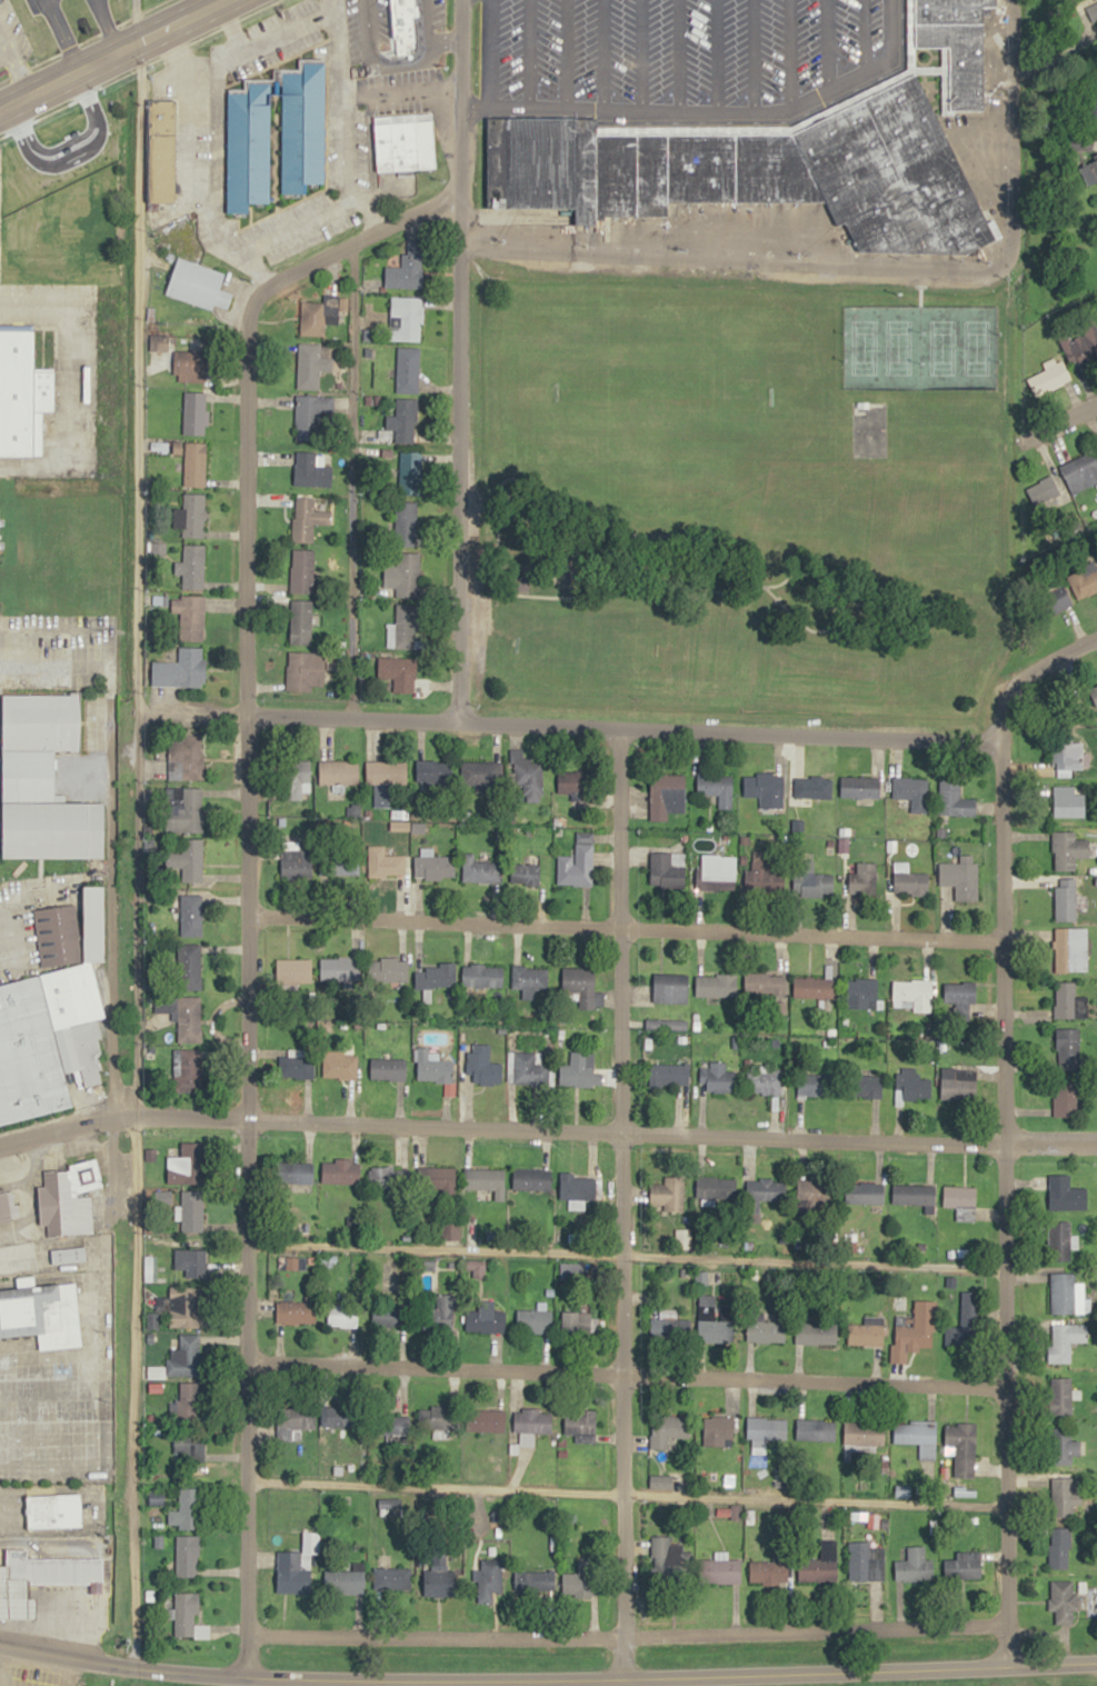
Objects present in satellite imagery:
road: (201, 2)
building: (1096, 2)
parking lot: (30, 6)
road: (46, 8)
road: (133, 20)
building: (402, 20)
road: (104, 24)
parking lot: (14, 28)
road: (58, 33)
road: (82, 41)
building: (957, 43)
parking lot: (679, 48)
road: (106, 53)
road: (13, 62)
parking lot: (1, 64)
road: (707, 111)
building: (1095, 111)
building: (248, 138)
building: (405, 141)
building: (162, 149)
building: (1089, 167)
building: (758, 171)
road: (259, 242)
road: (859, 266)
building: (406, 268)
building: (198, 285)
building: (311, 316)
building: (407, 317)
building: (1080, 345)
park: (919, 347)
road: (452, 358)
building: (311, 363)
building: (190, 366)
building: (407, 369)
building: (1049, 378)
park: (715, 390)
building: (22, 393)
road: (1079, 407)
building: (193, 412)
building: (312, 418)
building: (403, 420)
road: (1034, 429)
building: (193, 463)
building: (310, 470)
building: (1080, 472)
building: (409, 473)
building: (1043, 490)
park: (737, 495)
building: (191, 516)
building: (306, 519)
building: (405, 522)
building: (191, 567)
building: (301, 570)
building: (407, 575)
road: (784, 580)
building: (1084, 581)
building: (1056, 596)
building: (189, 617)
building: (299, 622)
road: (870, 625)
building: (402, 628)
park: (584, 648)
road: (1029, 667)
building: (180, 669)
building: (305, 671)
building: (398, 672)
building: (1091, 695)
road: (620, 720)
building: (40, 721)
building: (1067, 751)
building: (186, 758)
building: (338, 772)
building: (433, 775)
building: (28, 776)
building: (481, 776)
building: (527, 776)
building: (293, 778)
building: (385, 779)
building: (574, 781)
building: (762, 785)
building: (810, 787)
building: (860, 787)
building: (717, 788)
building: (910, 791)
building: (666, 796)
building: (954, 799)
building: (1068, 801)
building: (183, 810)
building: (53, 829)
building: (1068, 850)
road: (127, 851)
building: (189, 859)
building: (290, 860)
building: (576, 862)
building: (383, 864)
building: (338, 867)
building: (433, 868)
building: (667, 869)
road: (246, 870)
building: (480, 870)
building: (716, 872)
building: (523, 874)
building: (765, 876)
building: (864, 878)
building: (960, 879)
building: (811, 880)
building: (910, 884)
building: (1065, 899)
building: (190, 915)
building: (93, 921)
road: (622, 927)
building: (57, 935)
building: (1070, 949)
building: (189, 966)
building: (339, 969)
building: (292, 970)
building: (388, 970)
building: (435, 975)
building: (481, 976)
building: (529, 977)
building: (578, 979)
building: (765, 984)
building: (717, 985)
building: (670, 987)
building: (812, 987)
building: (861, 992)
building: (959, 992)
building: (912, 994)
building: (1068, 1000)
building: (183, 1015)
building: (76, 1017)
building: (1068, 1047)
building: (29, 1052)
building: (292, 1066)
building: (341, 1066)
building: (432, 1066)
building: (481, 1066)
building: (388, 1068)
building: (528, 1068)
building: (186, 1069)
building: (577, 1071)
building: (669, 1074)
building: (716, 1078)
building: (764, 1081)
building: (815, 1084)
building: (958, 1084)
building: (864, 1086)
building: (914, 1087)
building: (1065, 1099)
road: (547, 1128)
building: (188, 1160)
building: (340, 1170)
building: (296, 1173)
building: (382, 1177)
building: (531, 1178)
building: (438, 1180)
building: (485, 1180)
building: (576, 1187)
building: (717, 1189)
building: (768, 1189)
building: (815, 1189)
building: (668, 1191)
building: (864, 1193)
building: (1066, 1194)
building: (914, 1195)
building: (68, 1196)
road: (619, 1199)
road: (998, 1199)
building: (960, 1200)
building: (10, 1204)
building: (192, 1210)
building: (449, 1230)
building: (1060, 1239)
building: (69, 1255)
road: (621, 1255)
building: (191, 1261)
building: (1064, 1293)
building: (188, 1306)
building: (297, 1310)
building: (42, 1313)
building: (439, 1314)
building: (343, 1315)
building: (389, 1315)
building: (716, 1319)
building: (533, 1320)
building: (485, 1321)
building: (577, 1321)
building: (664, 1325)
building: (767, 1330)
building: (815, 1333)
building: (866, 1333)
building: (915, 1334)
building: (960, 1336)
building: (1066, 1340)
building: (187, 1356)
road: (619, 1371)
building: (1063, 1396)
building: (189, 1403)
parking lot: (48, 1413)
building: (316, 1418)
building: (436, 1418)
building: (485, 1419)
building: (533, 1420)
building: (579, 1421)
building: (396, 1425)
building: (770, 1429)
building: (669, 1430)
building: (718, 1431)
building: (824, 1431)
building: (865, 1435)
building: (918, 1437)
building: (961, 1441)
building: (189, 1446)
building: (1065, 1448)
building: (679, 1482)
road: (621, 1489)
building: (1064, 1497)
building: (189, 1509)
building: (54, 1510)
building: (1060, 1548)
building: (188, 1556)
building: (666, 1557)
building: (866, 1565)
building: (964, 1566)
building: (912, 1567)
building: (52, 1568)
building: (297, 1568)
building: (817, 1570)
building: (720, 1572)
building: (769, 1572)
building: (392, 1579)
building: (582, 1580)
building: (343, 1582)
building: (439, 1582)
building: (490, 1582)
building: (537, 1582)
building: (18, 1597)
building: (1063, 1600)
building: (186, 1614)
parking lot: (33, 1674)
road: (547, 1678)

